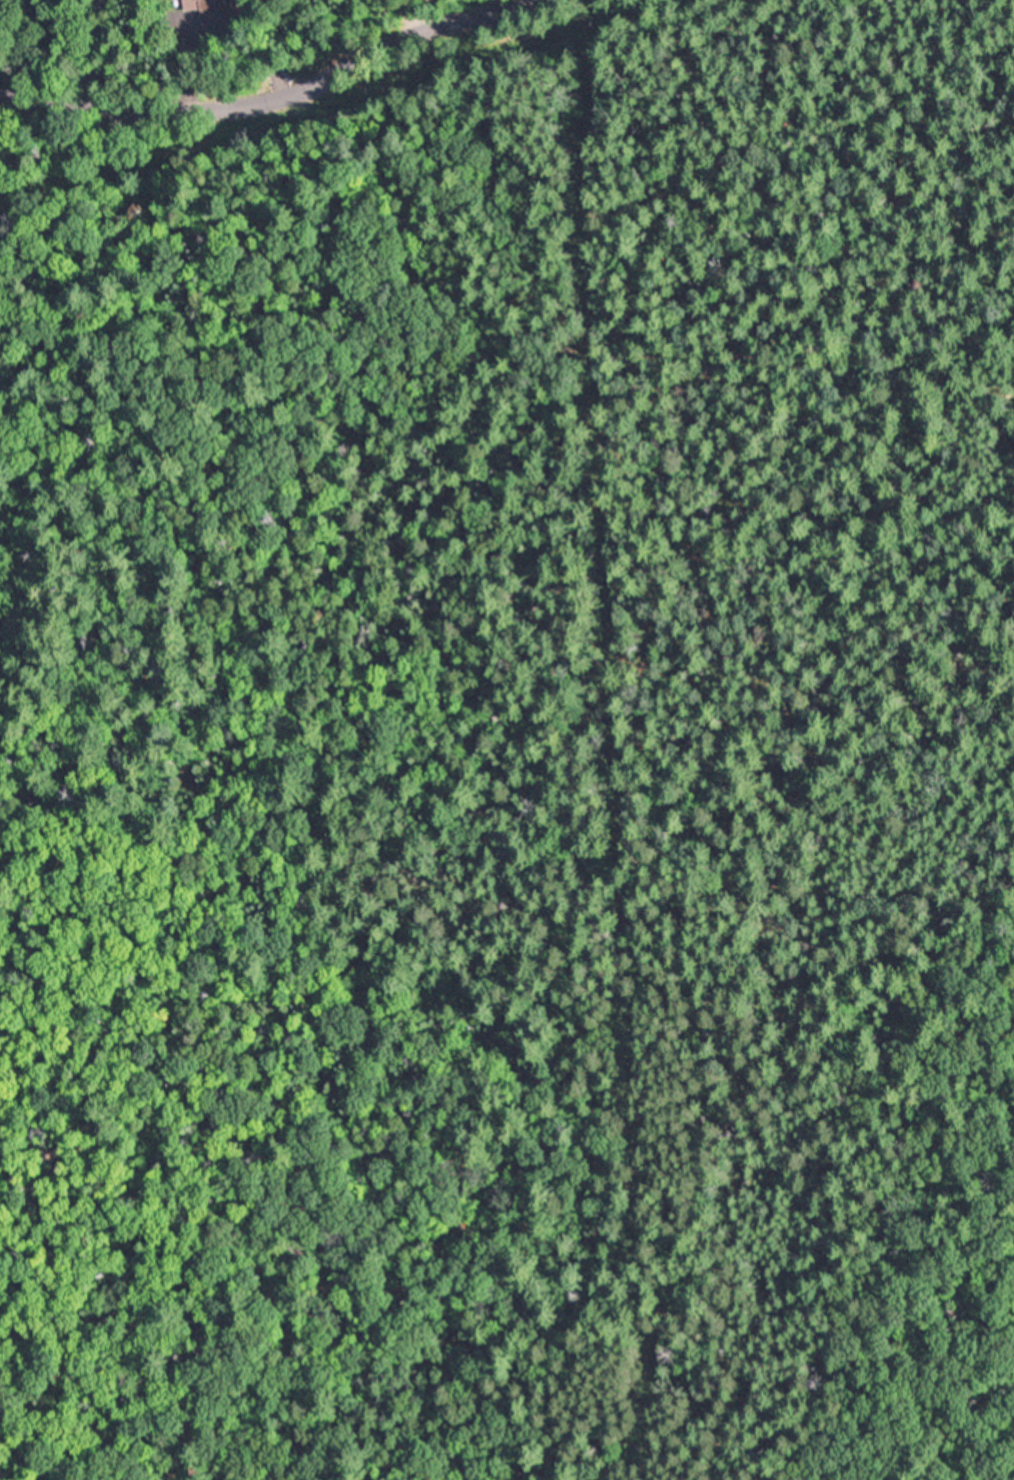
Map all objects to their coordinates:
building: (218, 5)
building: (363, 61)
road: (271, 99)

